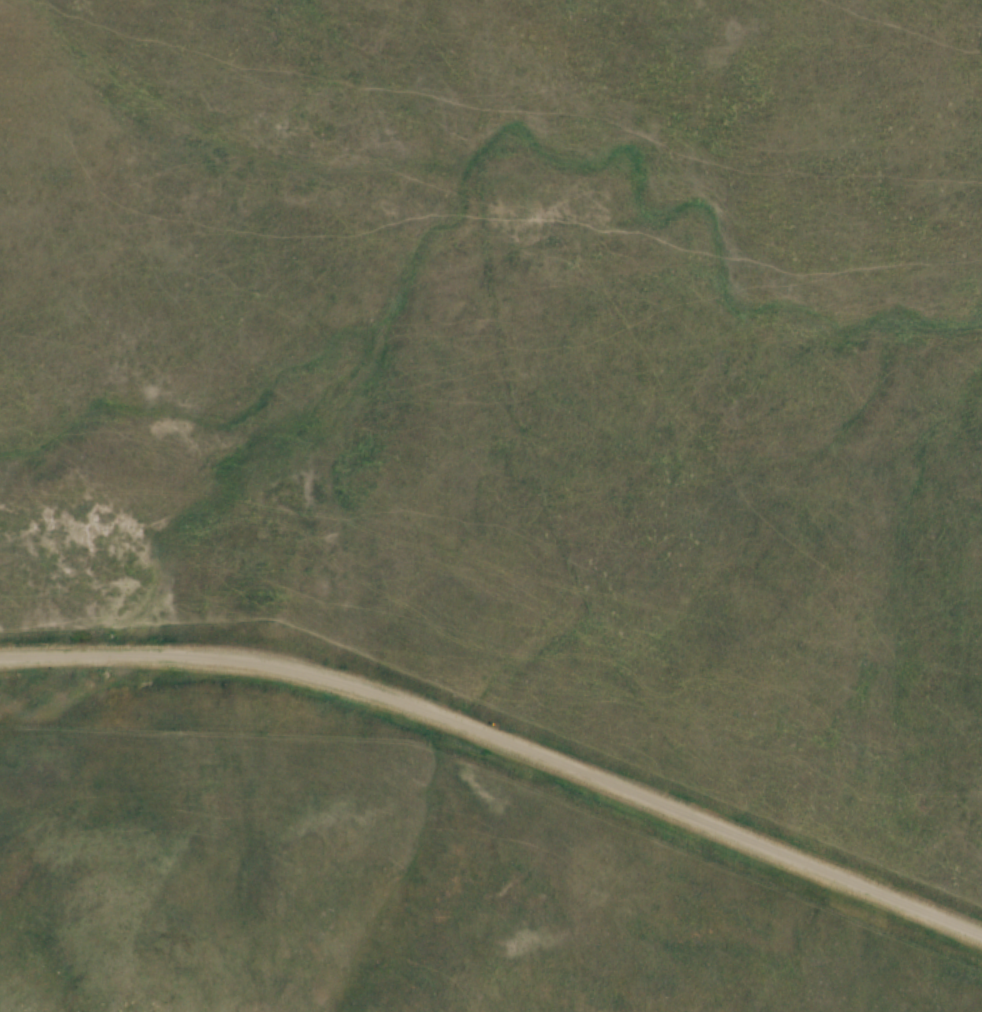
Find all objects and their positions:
road: (502, 745)

